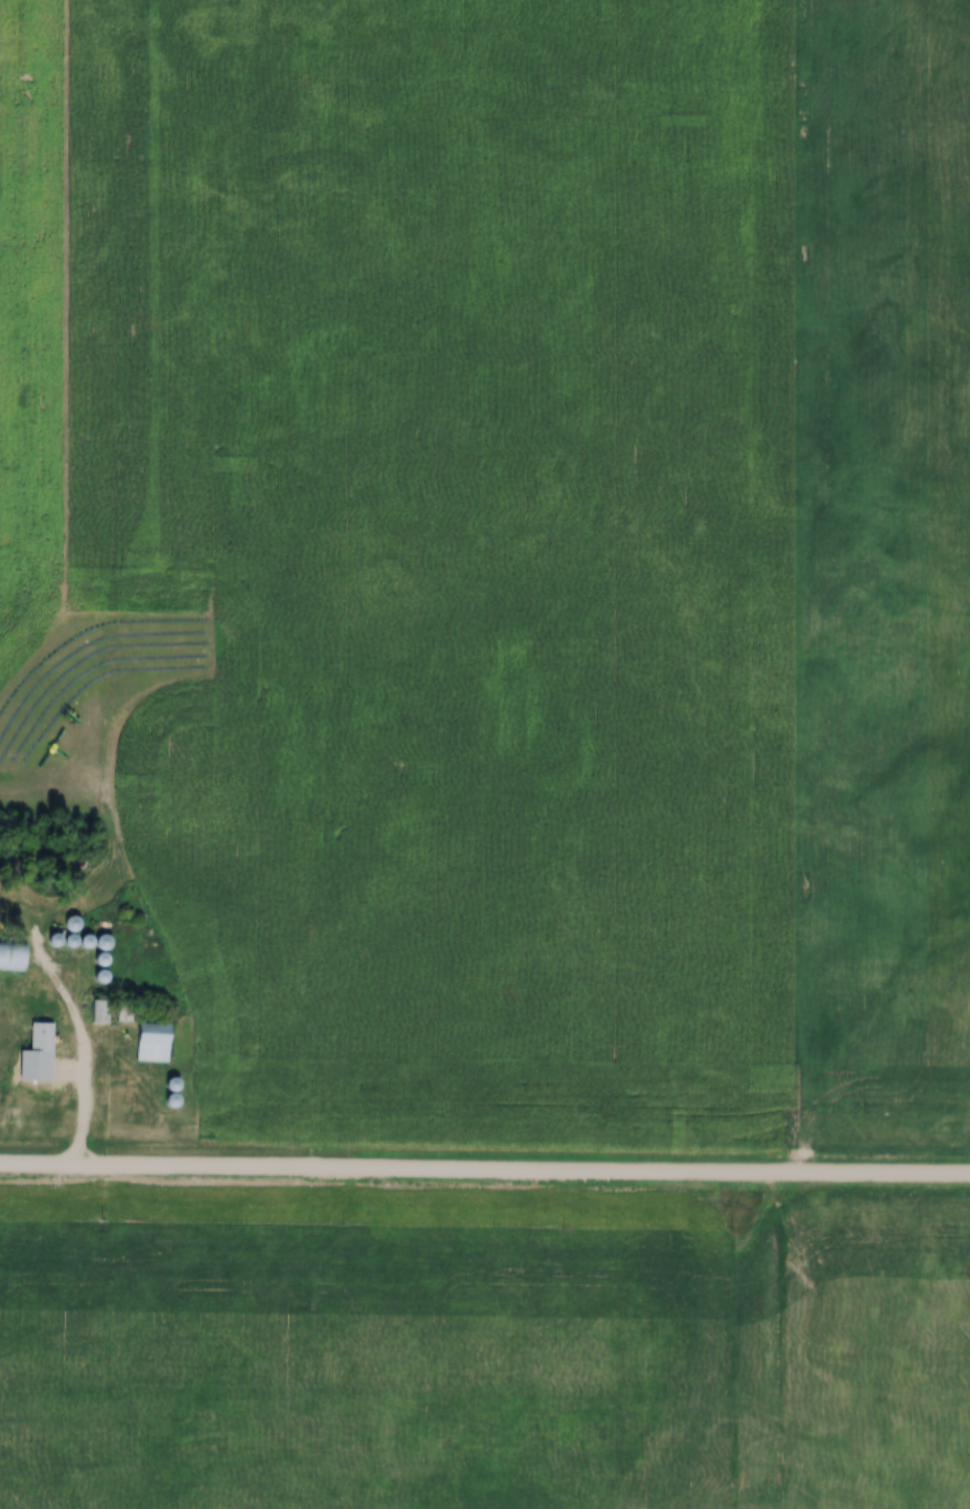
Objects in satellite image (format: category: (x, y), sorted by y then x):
building: (67, 925)
building: (98, 943)
building: (10, 956)
building: (38, 1039)
road: (79, 1041)
building: (150, 1043)
road: (484, 1171)

